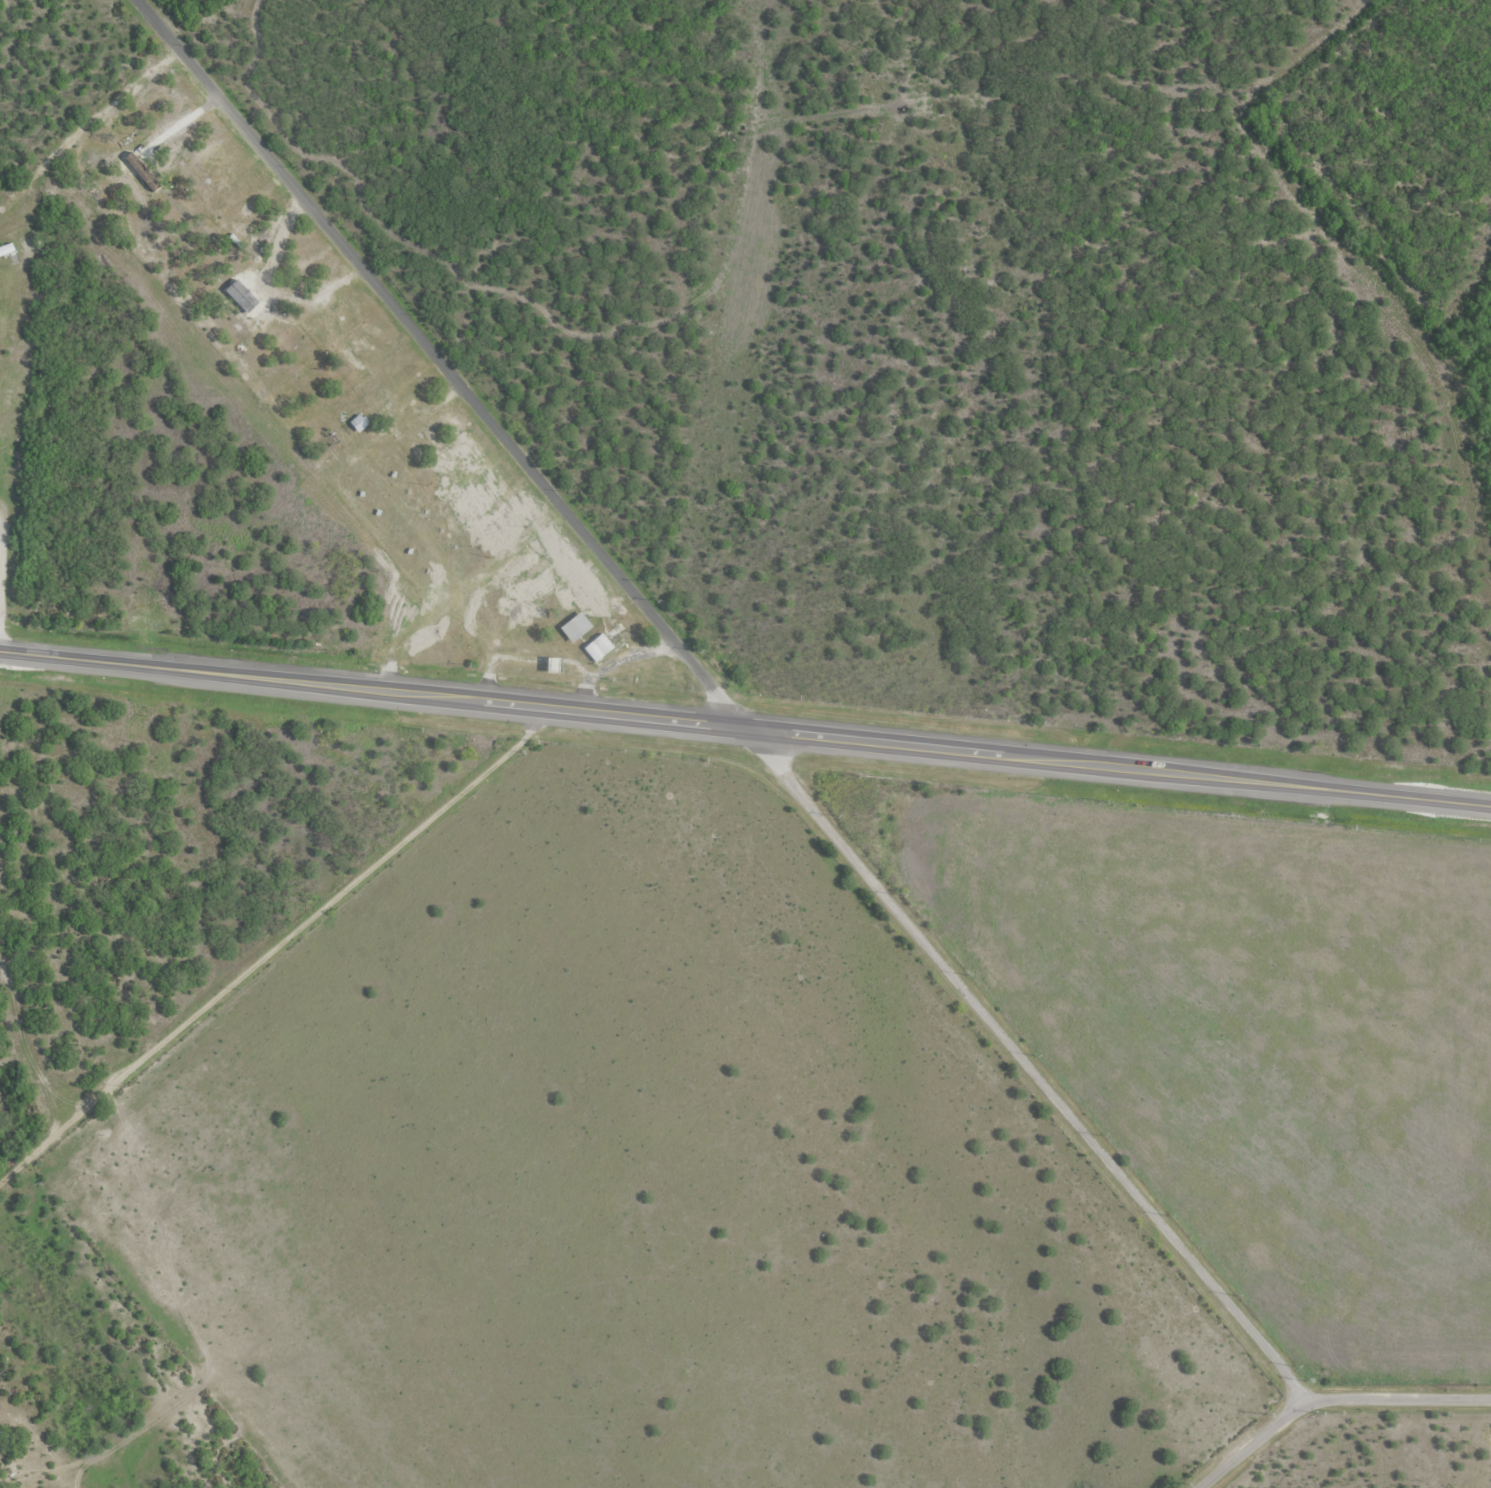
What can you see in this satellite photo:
building: (4, 249)
building: (354, 423)
building: (584, 581)
building: (576, 626)
building: (598, 647)
road: (721, 703)
road: (745, 728)
road: (277, 943)
road: (1329, 1400)

